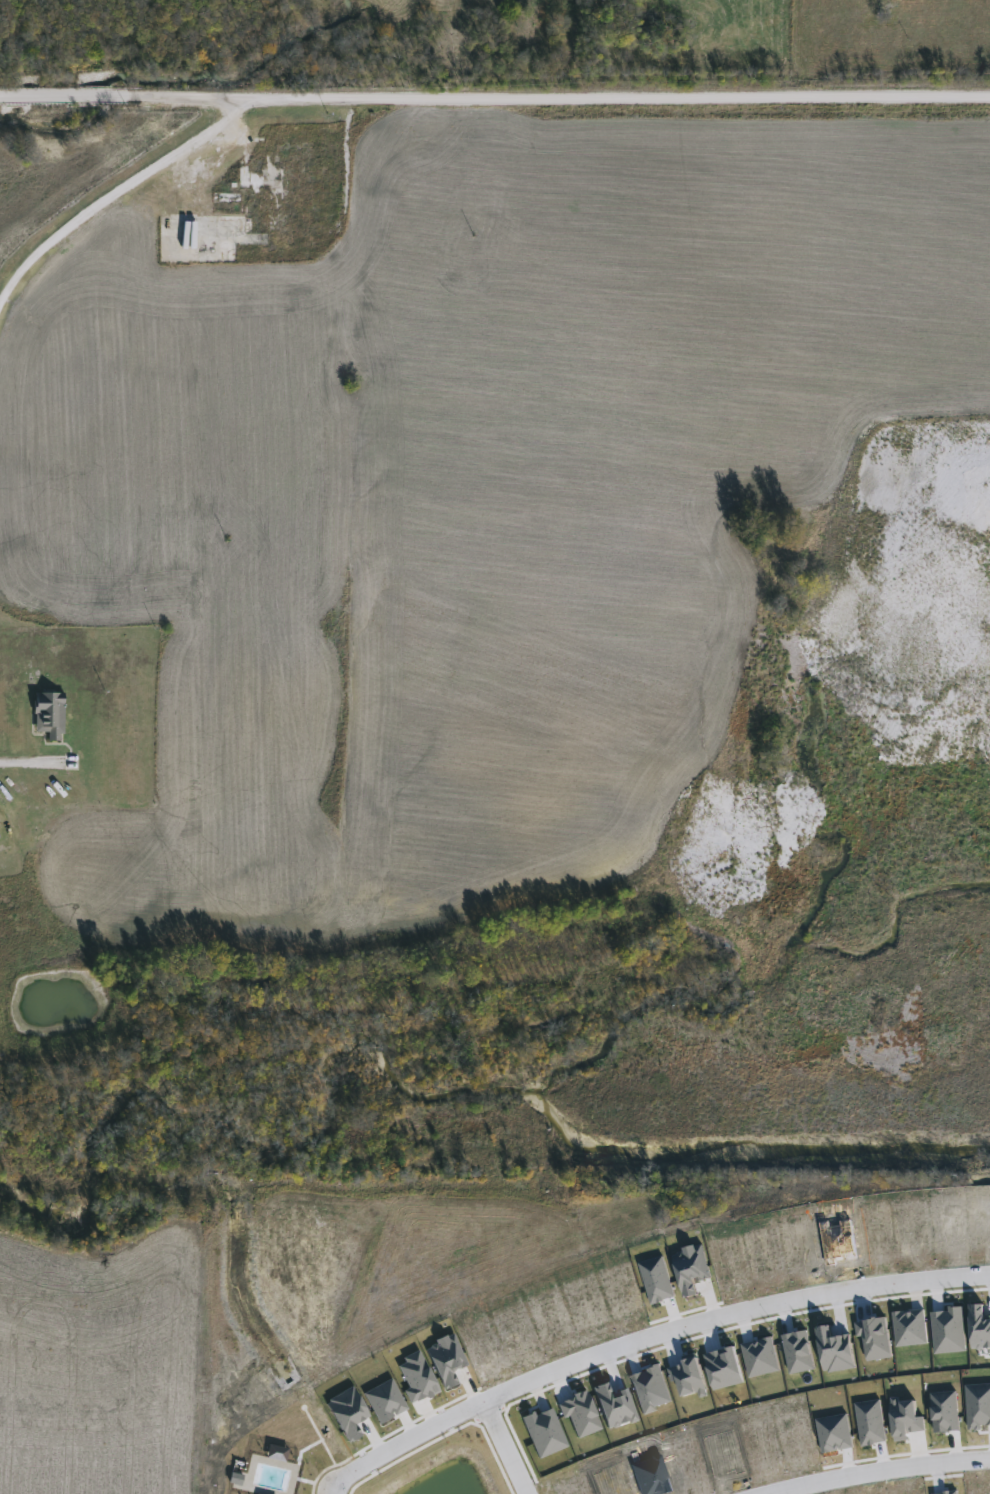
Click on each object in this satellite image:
road: (494, 100)
road: (115, 190)
building: (50, 715)
road: (645, 1337)
road: (504, 1447)
road: (880, 1472)

